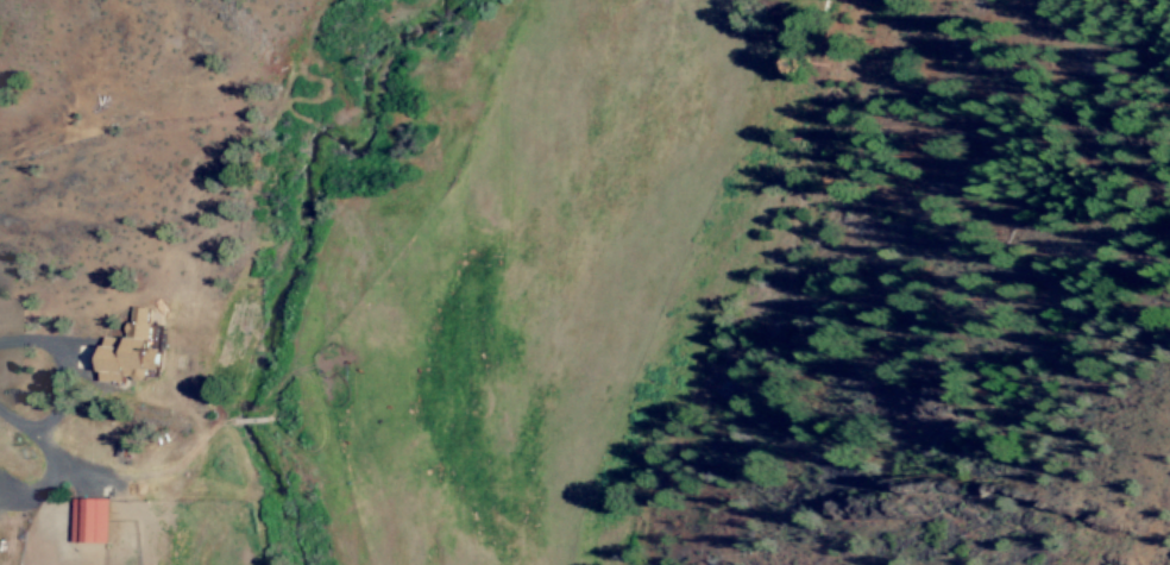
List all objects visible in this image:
crop: (357, 271)
building: (137, 350)
building: (96, 522)

